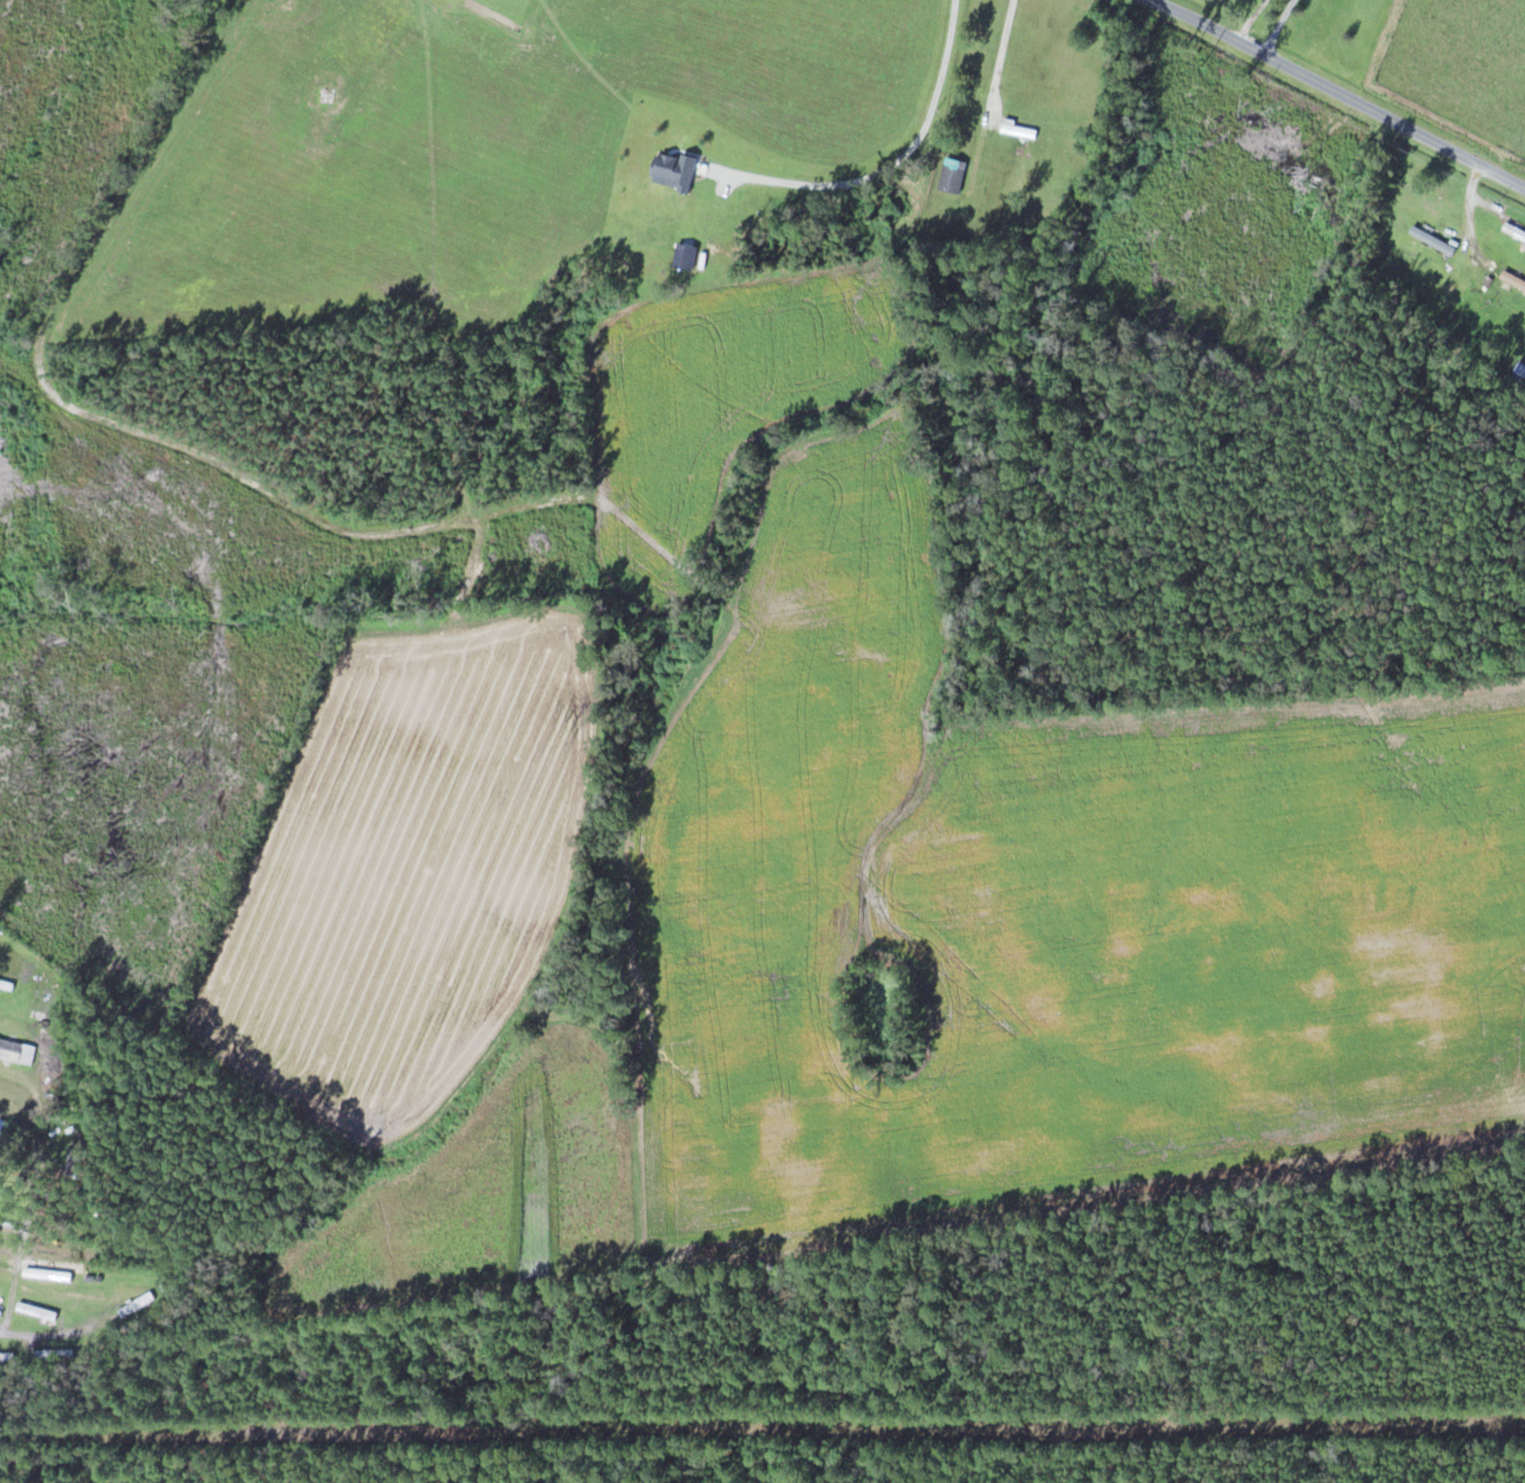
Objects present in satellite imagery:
building: (329, 63)
road: (1347, 88)
building: (327, 93)
building: (319, 118)
building: (1017, 129)
building: (953, 174)
building: (1515, 230)
building: (1514, 279)
building: (16, 1050)
building: (2, 1134)
building: (76, 1166)
building: (137, 1303)
building: (37, 1310)
building: (0, 1312)
building: (7, 1362)

